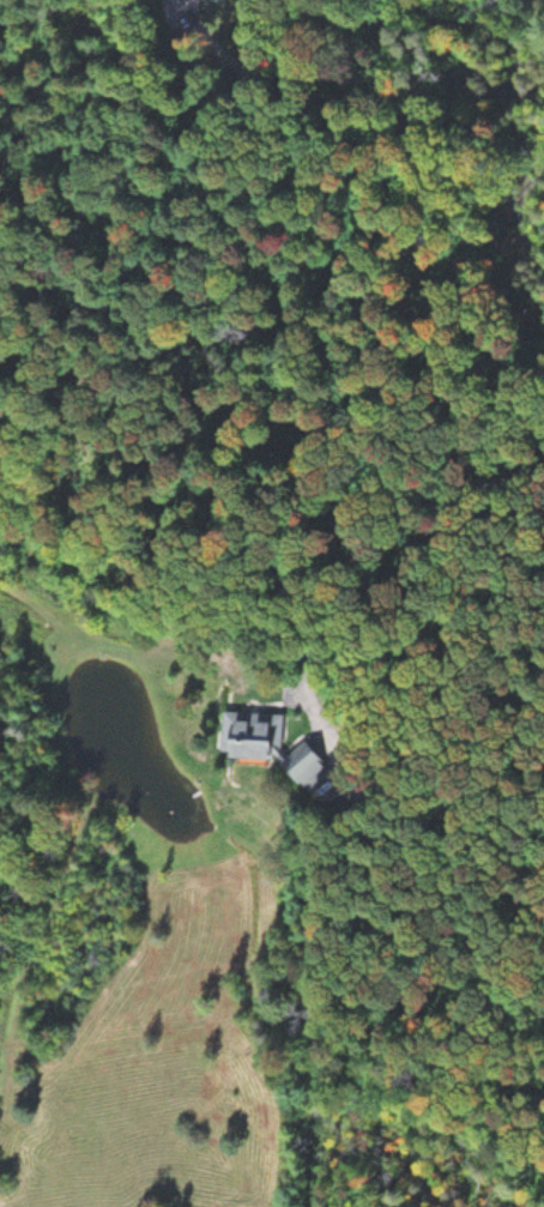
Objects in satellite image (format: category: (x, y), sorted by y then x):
road: (383, 37)
road: (274, 83)
road: (439, 441)
road: (296, 694)
building: (259, 732)

